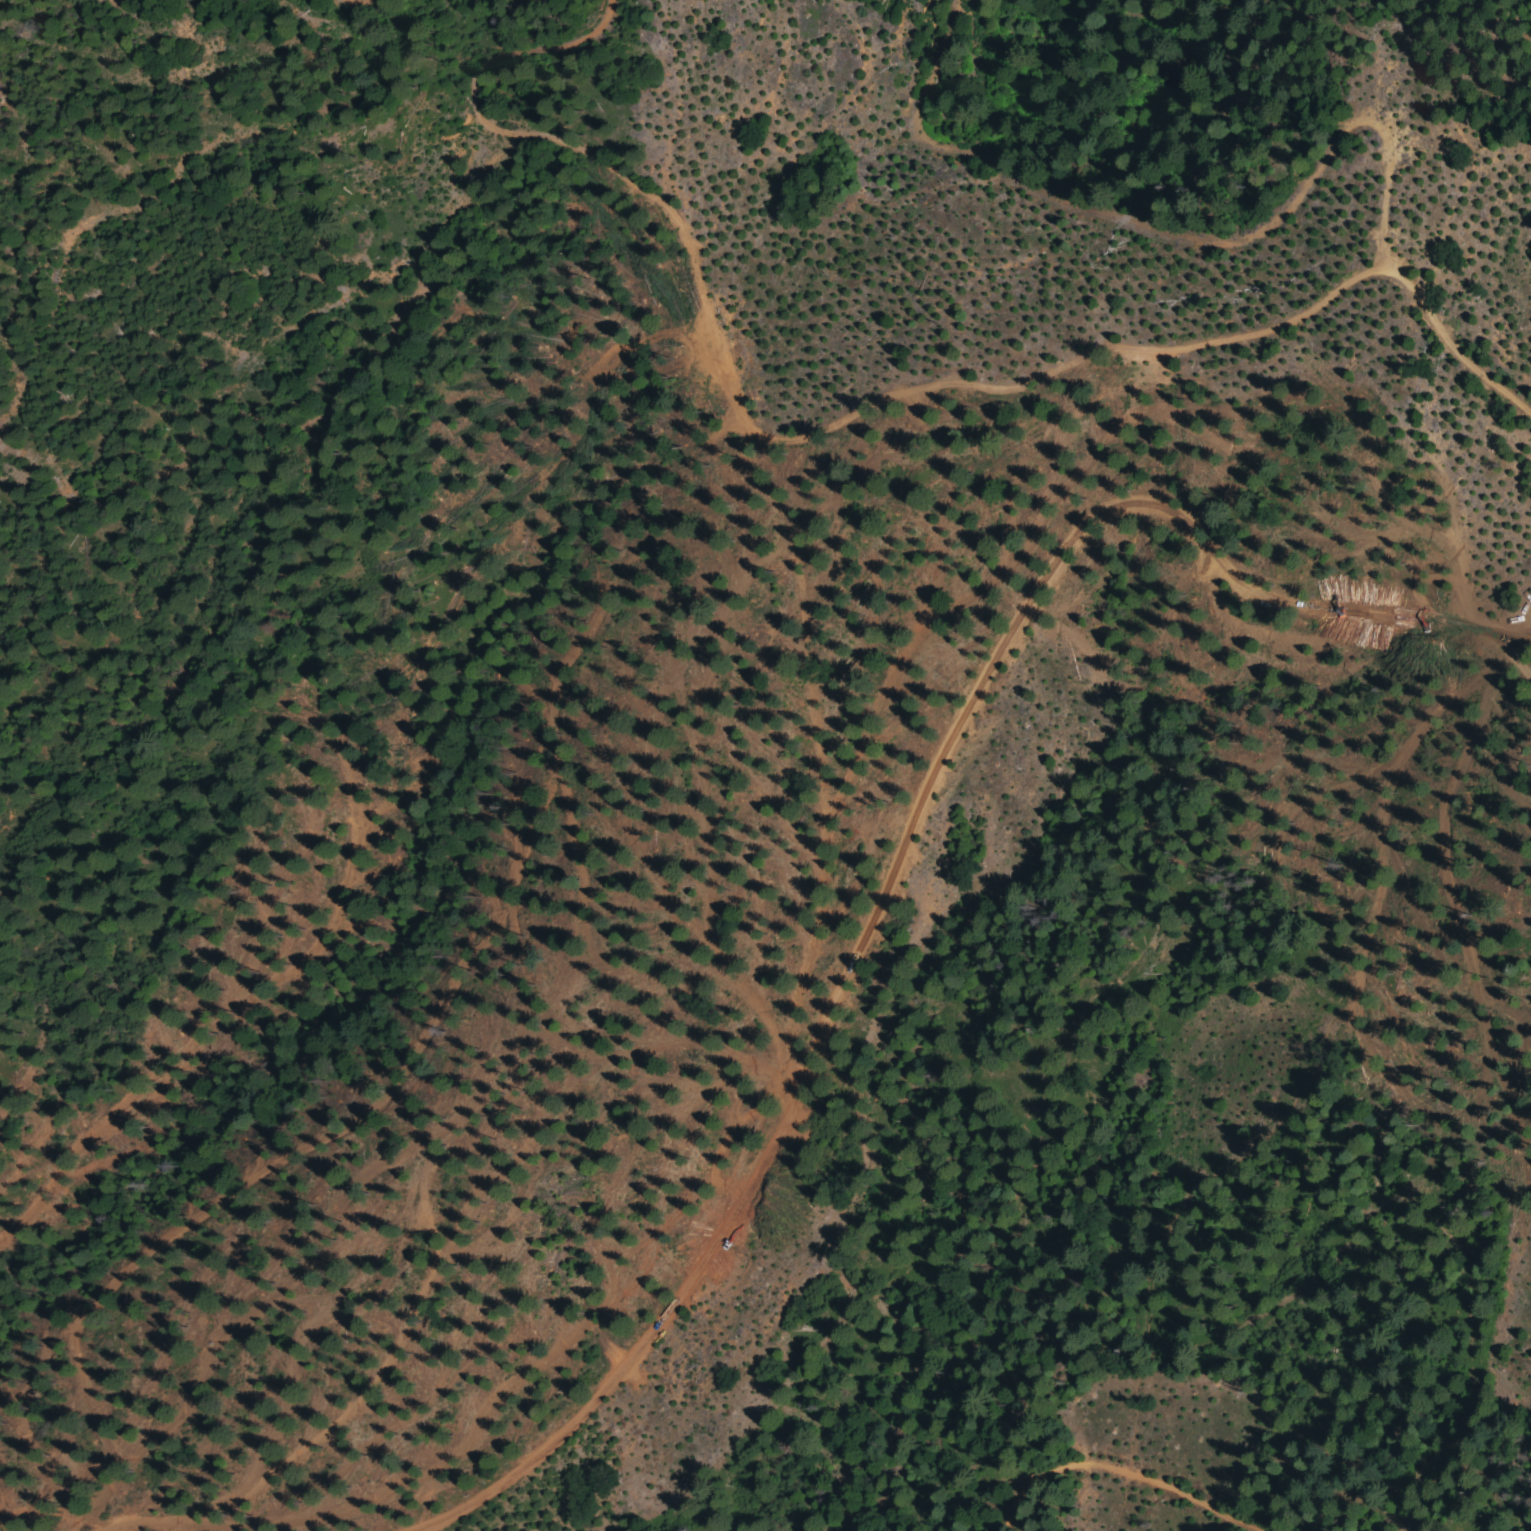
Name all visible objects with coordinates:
road: (520, 55)
road: (596, 173)
road: (1258, 221)
road: (1530, 634)
road: (1530, 634)
road: (824, 793)
road: (903, 853)
road: (1132, 1461)

